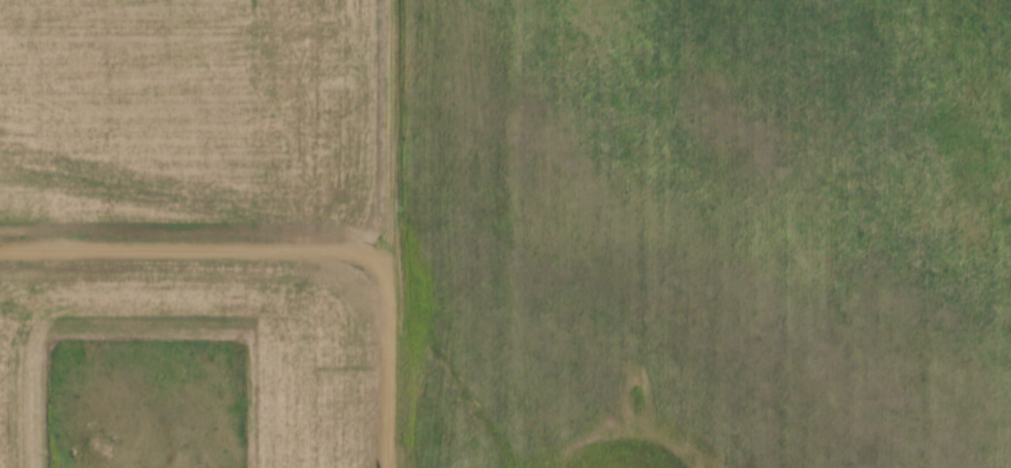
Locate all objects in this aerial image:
road: (390, 234)

